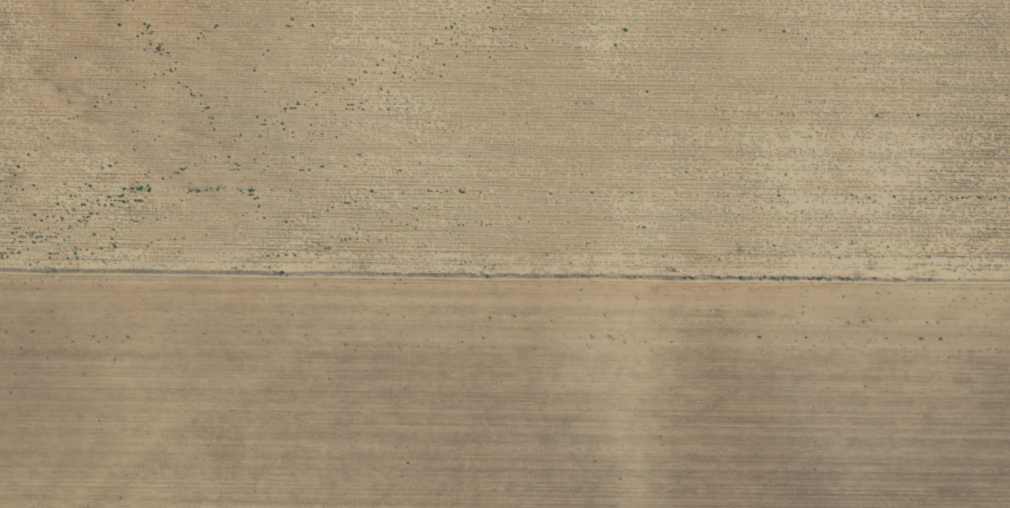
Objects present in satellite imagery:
road: (505, 293)

